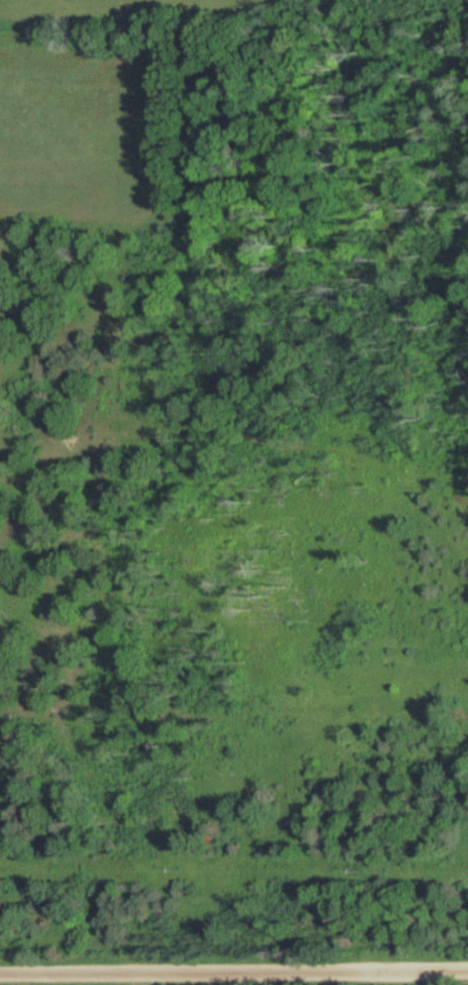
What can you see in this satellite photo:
road: (43, 984)

